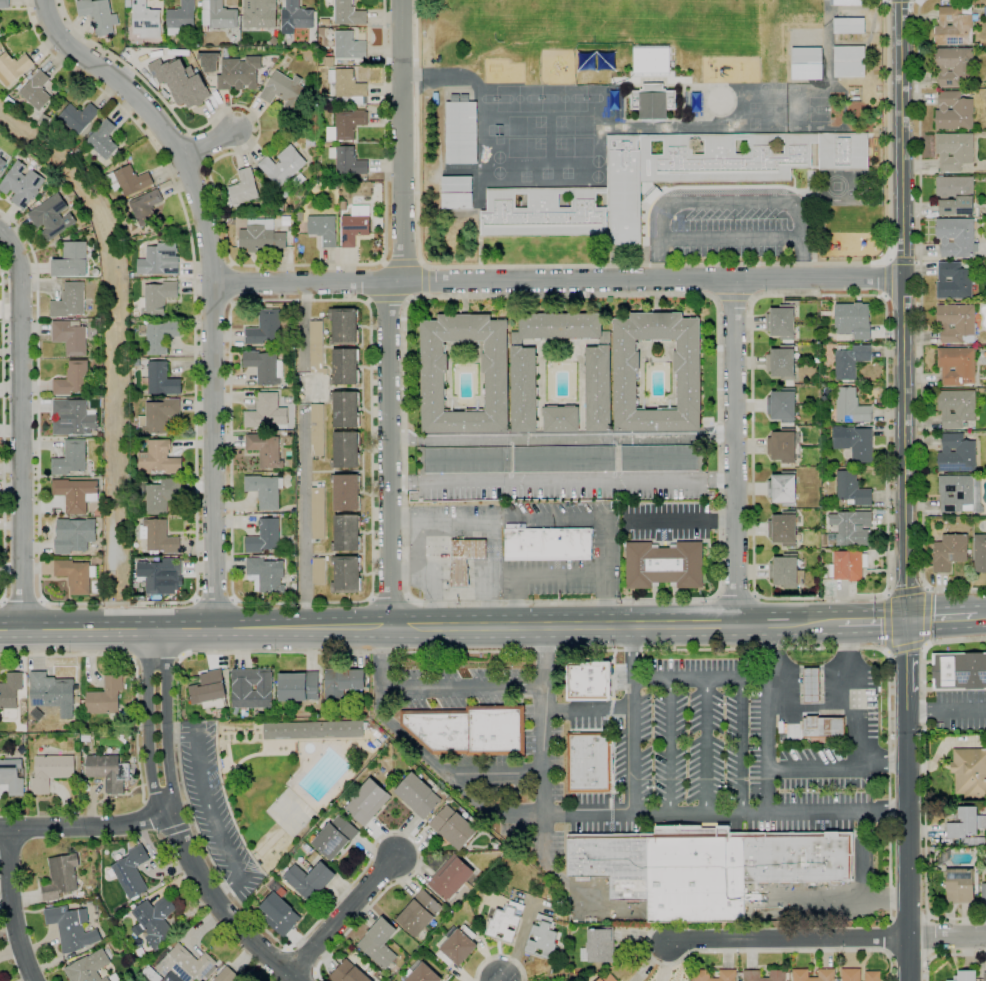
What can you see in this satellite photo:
road: (921, 0)
building: (848, 2)
building: (128, 3)
building: (4, 4)
road: (43, 5)
building: (348, 13)
building: (259, 14)
building: (217, 15)
building: (99, 16)
building: (296, 17)
building: (181, 19)
building: (145, 20)
building: (848, 25)
building: (954, 26)
building: (107, 39)
building: (349, 46)
building: (309, 54)
building: (209, 61)
building: (329, 61)
building: (650, 61)
building: (849, 62)
building: (954, 66)
building: (13, 68)
building: (239, 73)
building: (181, 81)
building: (347, 85)
building: (37, 91)
building: (286, 91)
building: (856, 91)
building: (455, 97)
building: (464, 97)
building: (855, 98)
building: (614, 100)
building: (652, 101)
building: (348, 103)
building: (696, 103)
building: (361, 106)
building: (954, 111)
building: (78, 117)
building: (461, 117)
building: (346, 125)
road: (190, 130)
building: (103, 139)
road: (208, 142)
building: (310, 142)
building: (461, 148)
building: (843, 151)
building: (954, 151)
building: (724, 158)
building: (122, 159)
building: (347, 161)
building: (2, 163)
building: (115, 164)
building: (283, 166)
building: (608, 168)
road: (190, 173)
building: (298, 180)
building: (129, 181)
building: (457, 184)
building: (21, 185)
building: (341, 185)
building: (244, 188)
building: (955, 195)
building: (625, 197)
road: (731, 199)
building: (457, 201)
building: (38, 204)
building: (343, 206)
building: (146, 207)
building: (543, 212)
building: (52, 217)
building: (286, 221)
building: (355, 225)
parking lot: (730, 226)
building: (289, 228)
building: (323, 229)
building: (261, 237)
road: (733, 237)
building: (956, 237)
road: (225, 248)
building: (160, 260)
building: (71, 261)
road: (402, 262)
road: (903, 262)
road: (653, 266)
road: (212, 267)
road: (425, 279)
road: (703, 279)
road: (886, 279)
road: (558, 280)
road: (753, 281)
building: (954, 281)
road: (214, 283)
road: (232, 284)
road: (902, 296)
building: (158, 298)
road: (734, 298)
road: (386, 299)
building: (69, 301)
road: (213, 301)
road: (903, 310)
road: (389, 311)
building: (852, 318)
building: (313, 320)
building: (319, 320)
building: (783, 322)
road: (920, 322)
building: (956, 323)
building: (344, 326)
building: (265, 328)
building: (73, 336)
building: (161, 336)
building: (316, 348)
building: (289, 352)
building: (850, 360)
building: (781, 363)
building: (956, 366)
building: (264, 367)
building: (345, 367)
building: (597, 371)
building: (433, 375)
building: (688, 376)
building: (73, 379)
building: (162, 380)
building: (782, 405)
building: (850, 407)
building: (956, 407)
building: (345, 409)
building: (265, 413)
building: (158, 416)
building: (73, 418)
building: (561, 419)
building: (272, 428)
road: (20, 429)
building: (317, 430)
road: (3, 435)
road: (561, 438)
building: (854, 442)
building: (784, 445)
building: (265, 450)
building: (346, 450)
road: (734, 451)
building: (956, 454)
building: (662, 458)
building: (71, 459)
building: (159, 459)
building: (564, 459)
road: (617, 459)
building: (466, 460)
building: (273, 473)
road: (562, 481)
parking lot: (561, 487)
building: (782, 488)
building: (852, 489)
building: (264, 490)
building: (346, 492)
building: (958, 492)
building: (76, 494)
building: (162, 495)
building: (318, 512)
building: (274, 515)
road: (683, 520)
parking lot: (667, 521)
road: (463, 522)
road: (606, 524)
building: (784, 528)
building: (852, 528)
building: (346, 533)
building: (74, 535)
building: (626, 536)
building: (159, 537)
building: (266, 537)
building: (548, 544)
parking lot: (605, 544)
road: (196, 546)
gas station: (453, 550)
building: (968, 551)
road: (432, 552)
building: (949, 552)
building: (980, 553)
building: (464, 560)
building: (664, 565)
building: (848, 566)
building: (318, 571)
building: (785, 571)
building: (824, 573)
building: (76, 575)
building: (267, 575)
building: (346, 575)
building: (161, 576)
building: (292, 578)
road: (537, 578)
building: (292, 587)
road: (906, 587)
road: (885, 592)
road: (736, 594)
road: (716, 595)
road: (213, 598)
road: (391, 598)
road: (366, 599)
road: (22, 600)
road: (980, 616)
road: (940, 619)
road: (872, 621)
traffic signals: (905, 621)
road: (615, 625)
road: (194, 629)
road: (905, 656)
building: (959, 671)
building: (588, 679)
road: (699, 679)
building: (342, 682)
building: (813, 685)
building: (299, 686)
parking lot: (459, 686)
building: (208, 688)
building: (252, 688)
road: (464, 688)
building: (11, 690)
road: (854, 694)
building: (54, 696)
building: (106, 696)
gas station: (832, 696)
road: (588, 709)
road: (946, 711)
parking lot: (960, 711)
road: (766, 718)
road: (545, 719)
road: (631, 719)
road: (166, 720)
road: (148, 722)
building: (823, 727)
building: (313, 729)
building: (469, 730)
road: (741, 745)
road: (707, 746)
road: (669, 747)
parking lot: (713, 756)
building: (590, 761)
road: (836, 769)
building: (109, 771)
building: (51, 772)
building: (969, 772)
road: (495, 773)
building: (12, 776)
road: (922, 782)
building: (418, 795)
parking lot: (530, 796)
building: (367, 802)
parking lot: (214, 809)
road: (210, 811)
road: (580, 814)
building: (964, 822)
road: (84, 827)
building: (453, 827)
road: (906, 836)
building: (335, 837)
road: (544, 840)
building: (706, 866)
building: (131, 871)
building: (61, 877)
building: (450, 878)
road: (862, 878)
building: (309, 881)
building: (959, 885)
building: (983, 891)
road: (220, 905)
road: (10, 906)
building: (419, 913)
building: (280, 915)
road: (339, 917)
building: (155, 921)
building: (506, 921)
building: (71, 928)
building: (543, 936)
road: (947, 936)
road: (788, 937)
building: (379, 944)
building: (600, 944)
building: (459, 948)
building: (186, 965)
building: (89, 967)
building: (348, 973)
building: (826, 973)
building: (424, 974)
building: (727, 974)
building: (751, 974)
building: (851, 974)
building: (228, 975)
building: (872, 976)
building: (964, 976)
building: (984, 976)
building: (608, 977)
road: (500, 980)

